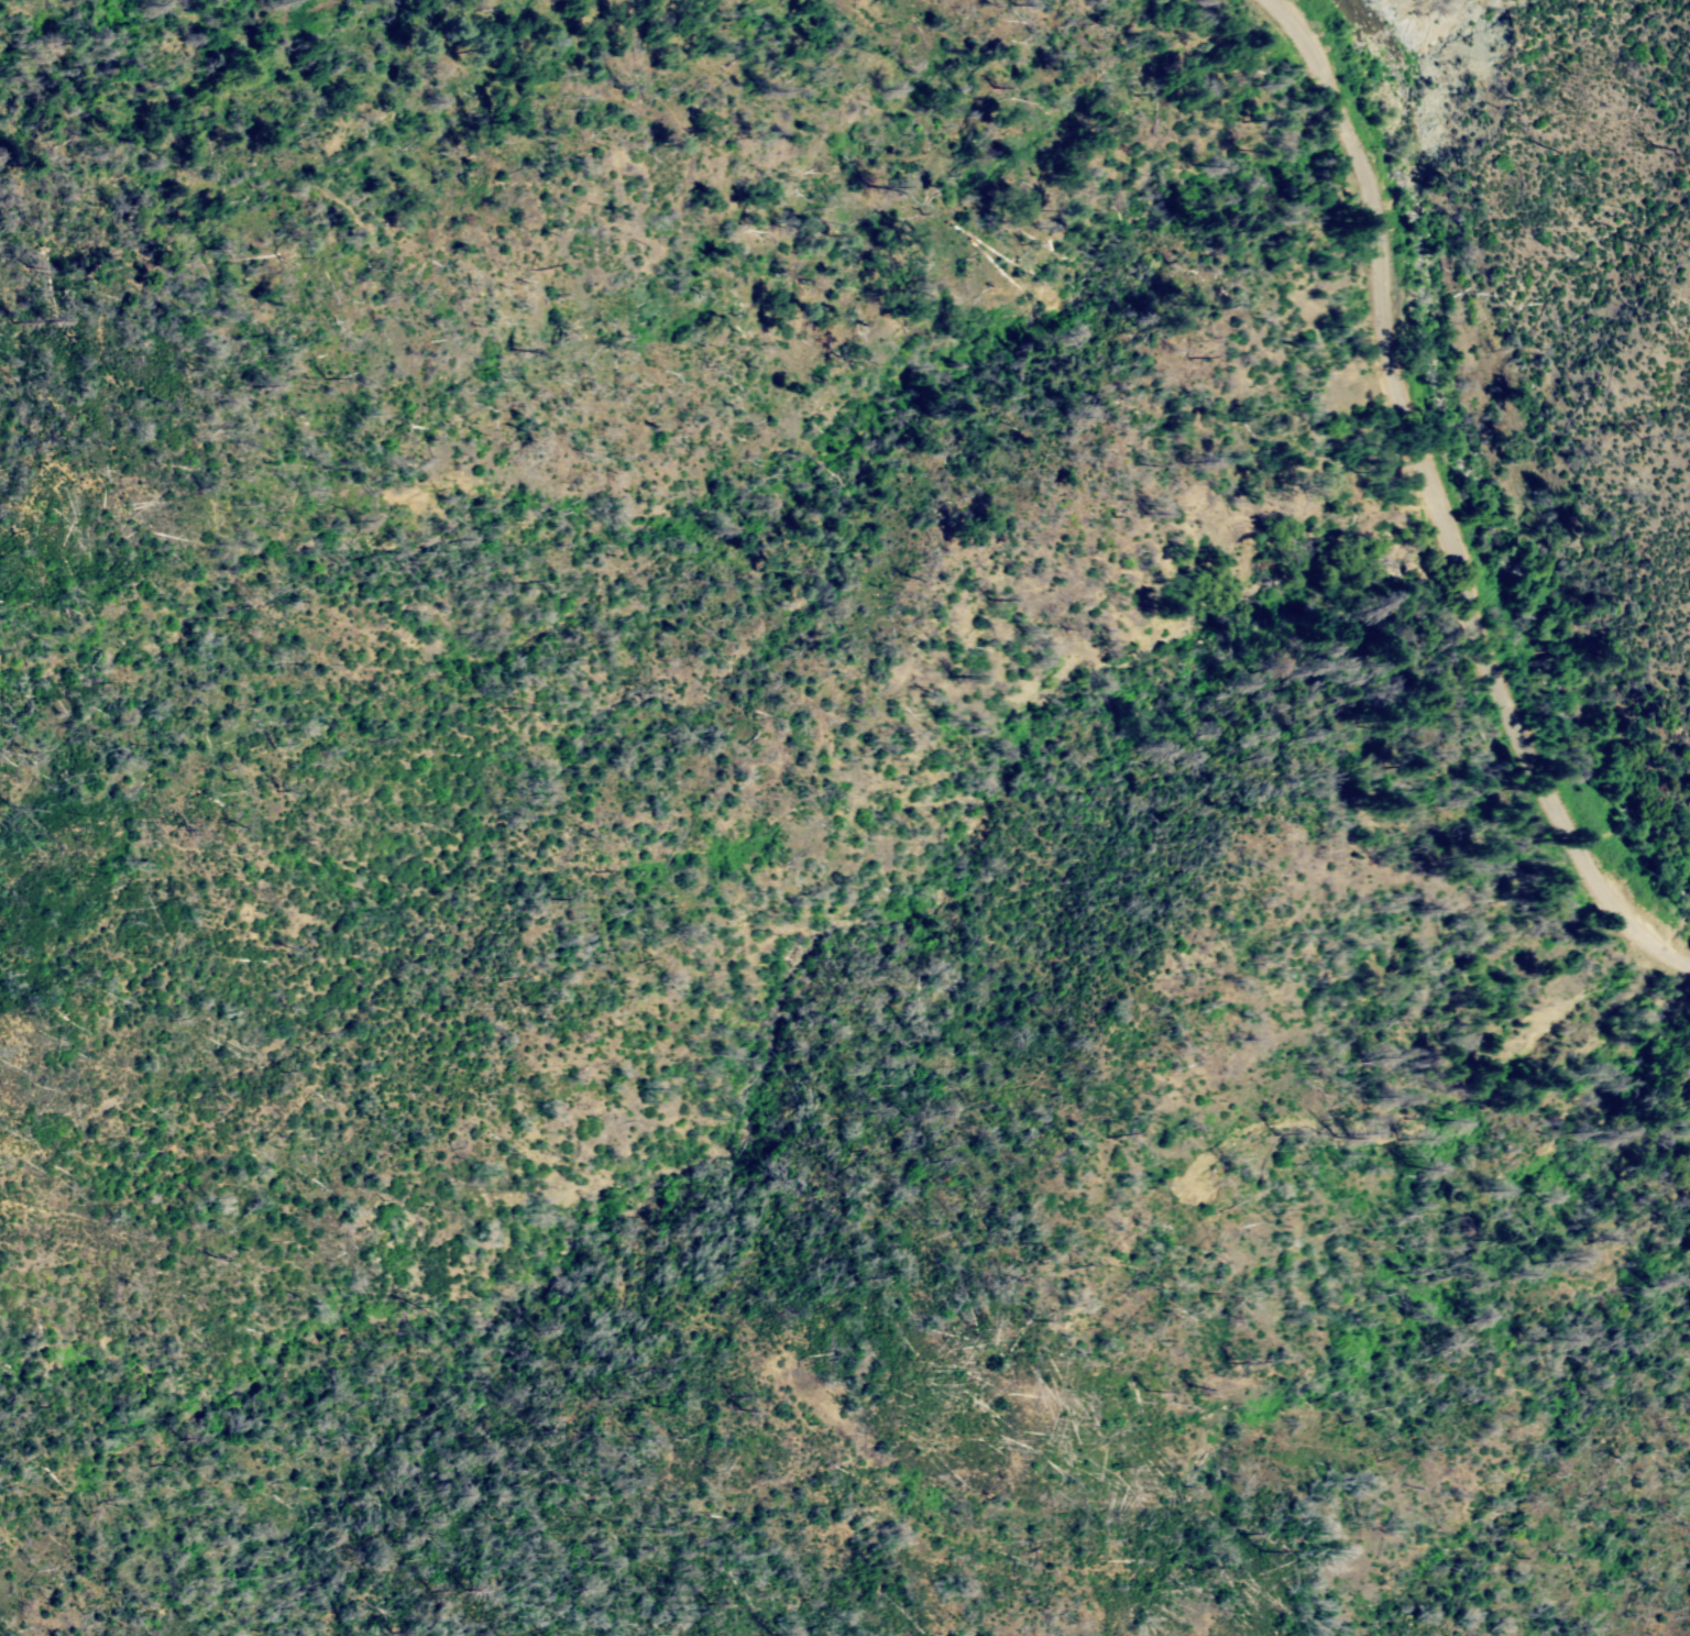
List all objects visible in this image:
road: (1438, 502)

